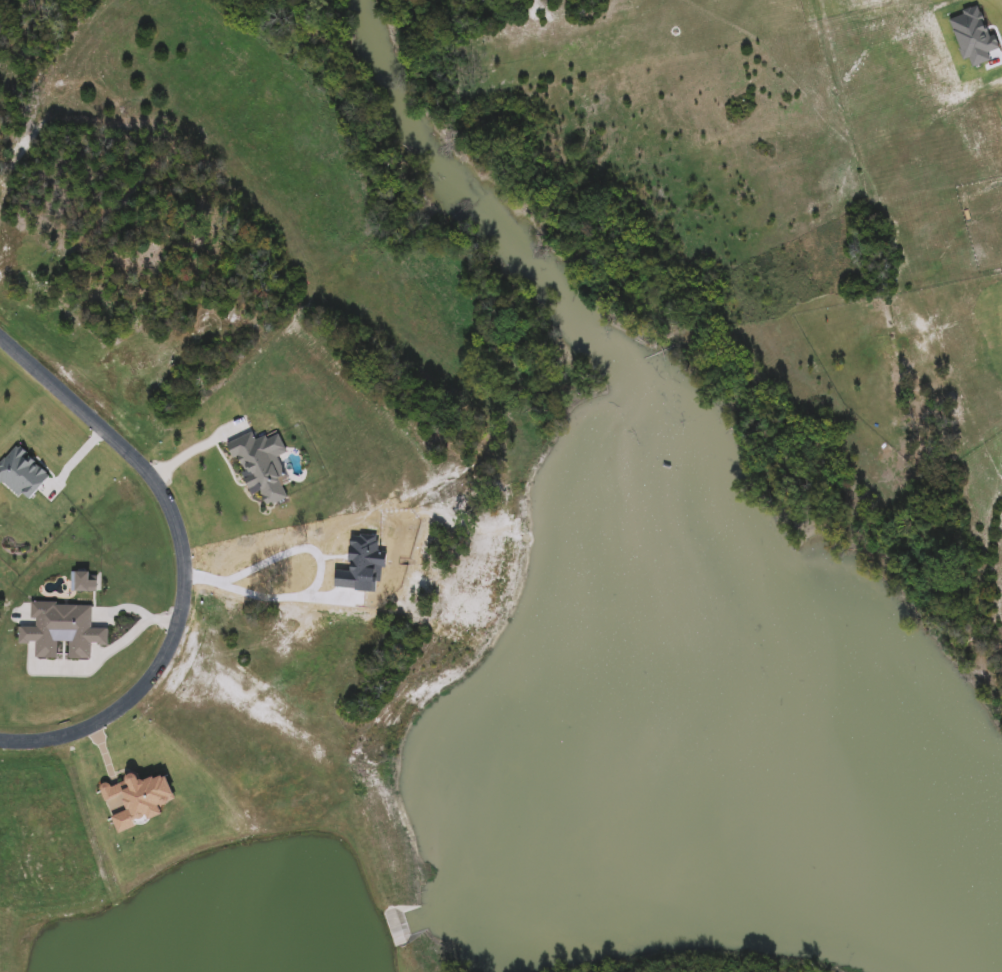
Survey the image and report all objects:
road: (183, 557)
building: (81, 582)
road: (253, 595)
building: (59, 630)
road: (110, 647)

